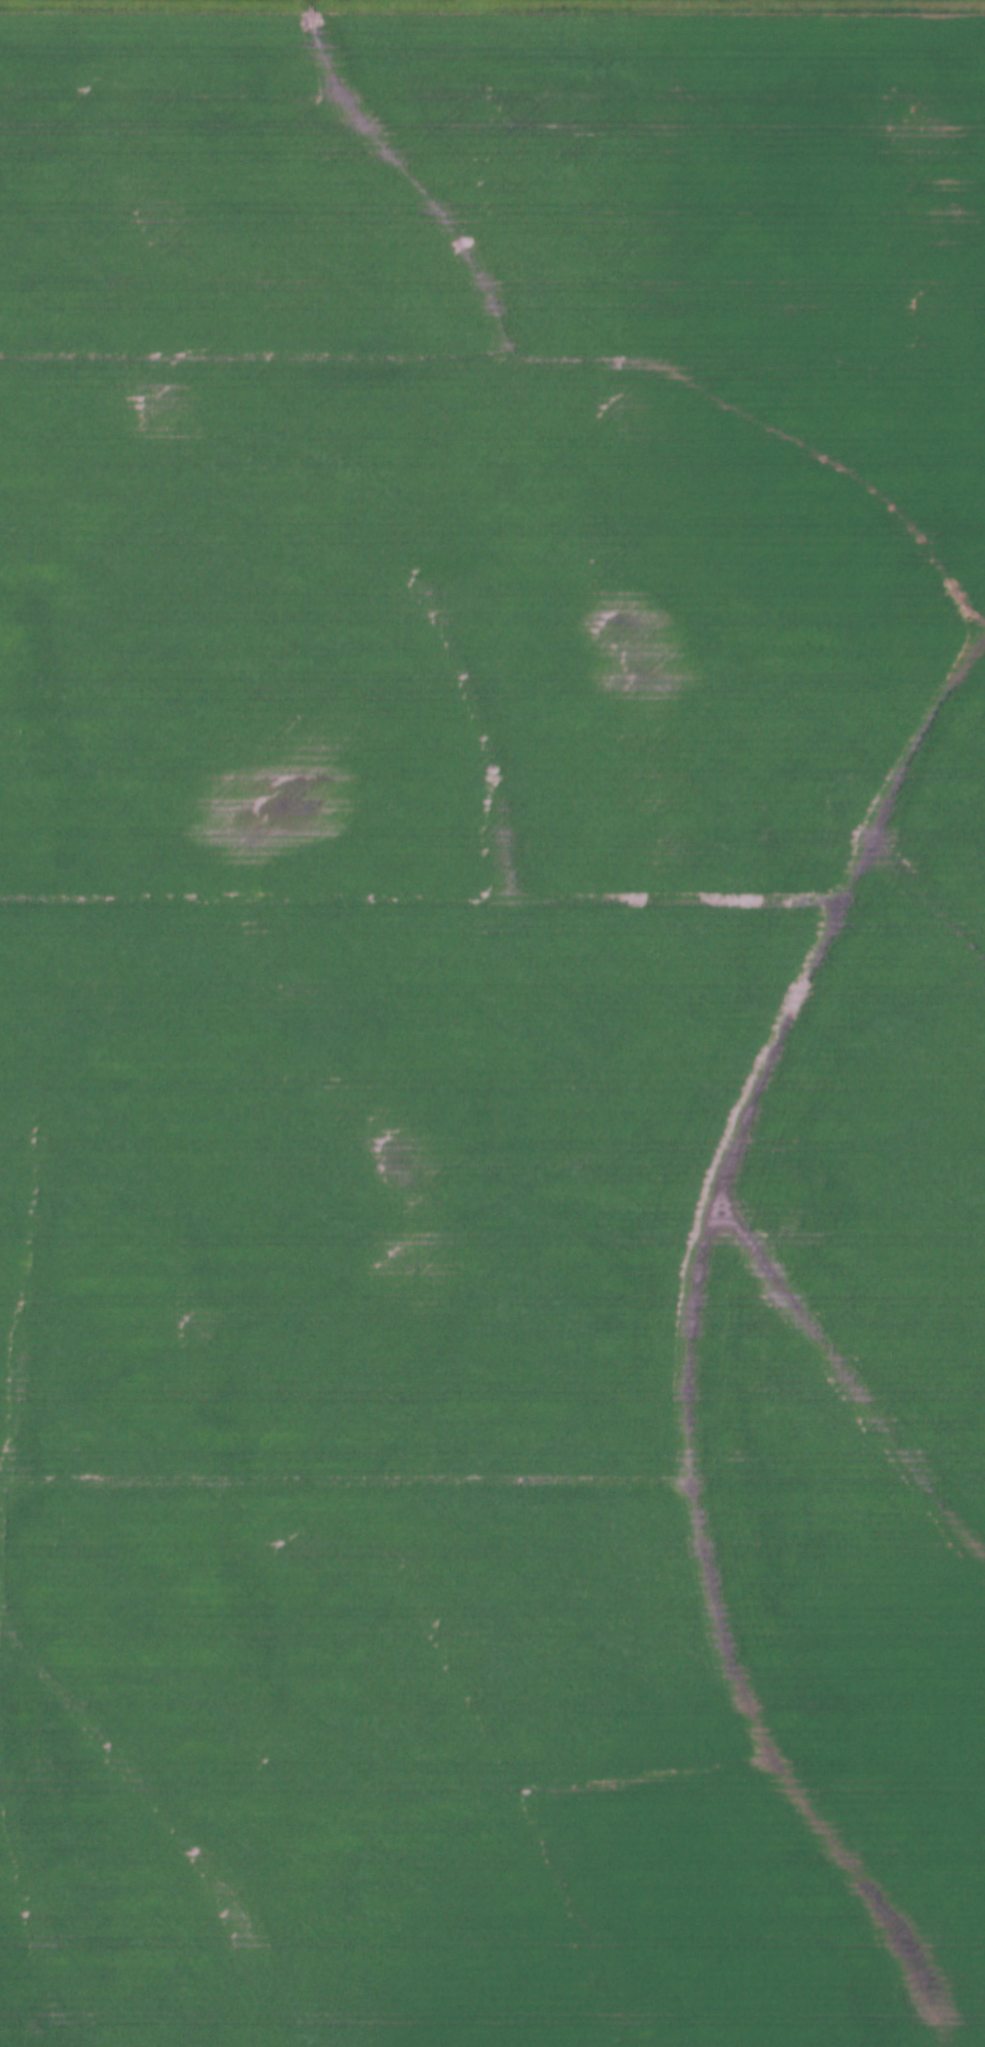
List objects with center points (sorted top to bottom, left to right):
crop: (492, 1028)

